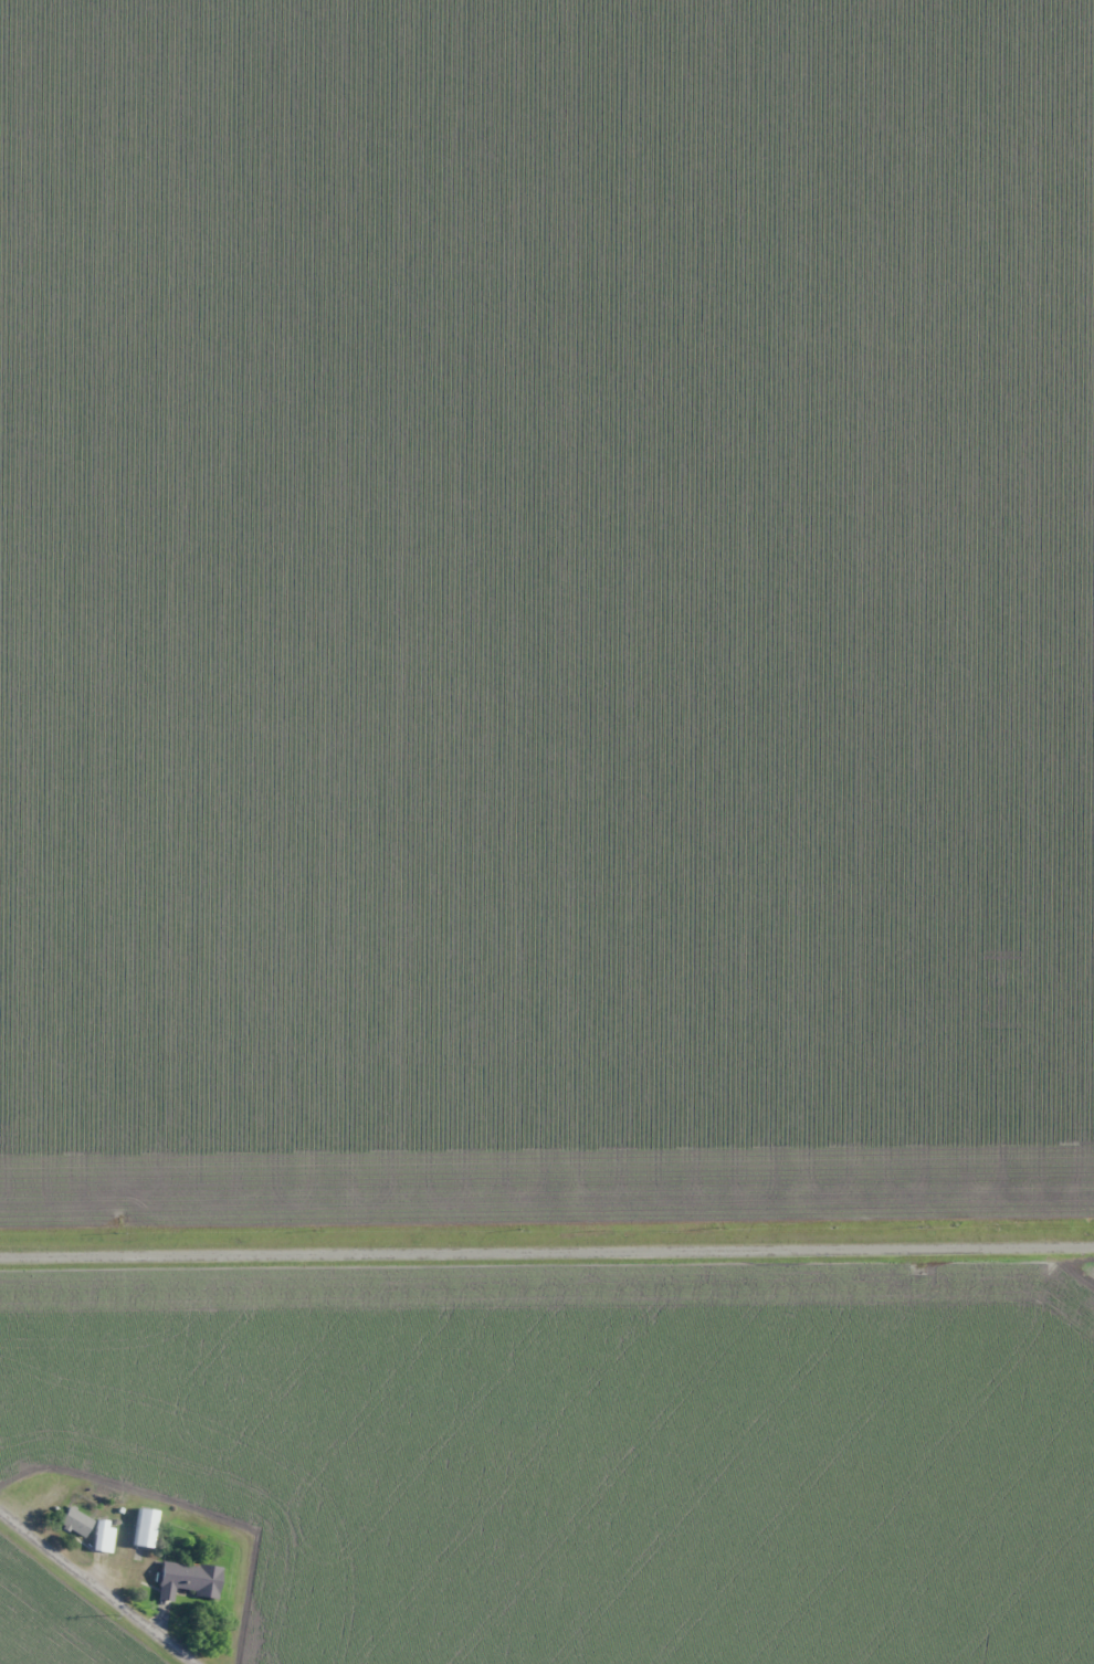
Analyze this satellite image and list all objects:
road: (547, 1242)
building: (75, 1521)
building: (145, 1528)
building: (104, 1537)
road: (108, 1579)
building: (188, 1580)

